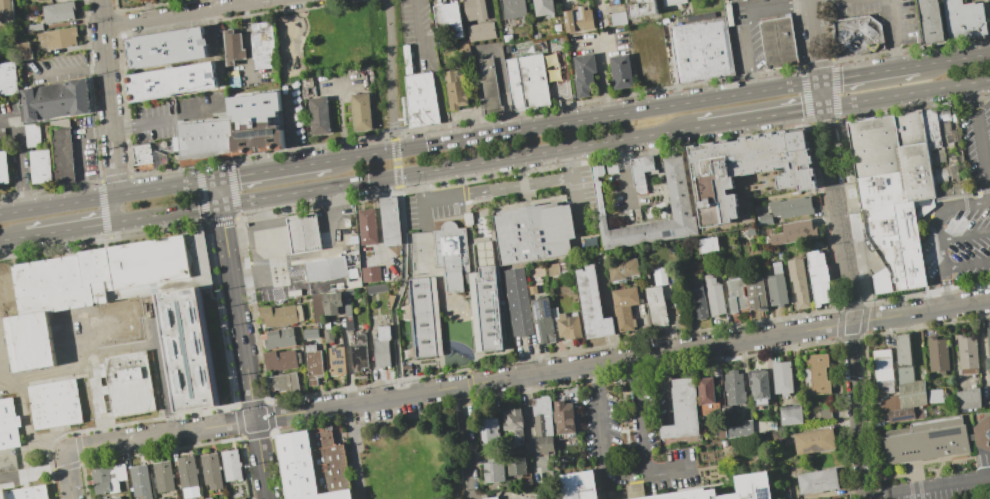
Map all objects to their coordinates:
road: (813, 0)
parking lot: (962, 0)
parking lot: (731, 1)
building: (672, 2)
building: (543, 7)
building: (512, 8)
building: (640, 8)
building: (6, 10)
building: (474, 10)
building: (57, 12)
road: (183, 13)
building: (449, 17)
parking lot: (883, 17)
building: (577, 18)
building: (617, 18)
building: (964, 19)
building: (930, 21)
road: (748, 22)
building: (34, 27)
road: (416, 28)
building: (481, 31)
parking lot: (749, 31)
road: (893, 34)
building: (858, 35)
building: (57, 38)
road: (246, 42)
building: (779, 42)
building: (232, 46)
building: (262, 46)
building: (166, 47)
park: (348, 49)
building: (24, 51)
building: (704, 51)
road: (954, 60)
parking lot: (53, 69)
road: (64, 71)
building: (620, 71)
road: (868, 73)
building: (583, 74)
building: (8, 79)
road: (602, 80)
building: (169, 81)
building: (234, 81)
building: (526, 81)
traffic signals: (820, 81)
road: (790, 85)
building: (487, 87)
building: (455, 90)
road: (906, 94)
road: (107, 98)
building: (421, 100)
building: (54, 101)
road: (567, 103)
parking lot: (200, 107)
traffic signals: (824, 108)
building: (361, 112)
road: (192, 115)
building: (318, 115)
road: (760, 117)
road: (147, 121)
building: (255, 122)
parking lot: (157, 126)
road: (544, 126)
building: (930, 127)
building: (945, 129)
rooftop solar panel: (257, 131)
building: (31, 135)
building: (3, 137)
building: (205, 141)
parking lot: (15, 143)
road: (980, 143)
road: (80, 152)
building: (62, 155)
building: (142, 157)
road: (18, 158)
building: (936, 158)
road: (478, 163)
building: (40, 166)
building: (3, 167)
building: (746, 169)
building: (948, 169)
road: (273, 170)
road: (520, 171)
building: (640, 171)
road: (624, 173)
traffic signals: (218, 179)
road: (463, 180)
road: (497, 189)
building: (950, 189)
road: (219, 192)
building: (891, 194)
road: (109, 196)
road: (399, 198)
building: (678, 198)
road: (240, 202)
road: (577, 202)
road: (977, 203)
traffic signals: (221, 205)
building: (791, 207)
road: (113, 209)
road: (104, 211)
parking lot: (963, 213)
road: (166, 214)
road: (424, 214)
road: (327, 217)
building: (763, 219)
road: (302, 221)
building: (389, 221)
road: (223, 222)
road: (957, 222)
building: (366, 226)
road: (935, 226)
road: (276, 228)
road: (58, 231)
road: (329, 232)
building: (793, 232)
building: (304, 233)
building: (533, 233)
road: (277, 235)
road: (964, 235)
road: (245, 236)
road: (304, 236)
road: (3, 240)
building: (708, 244)
road: (334, 247)
road: (843, 249)
gas station: (304, 252)
building: (450, 254)
road: (267, 256)
road: (966, 264)
building: (555, 269)
building: (622, 269)
building: (326, 270)
building: (370, 274)
building: (659, 276)
building: (817, 277)
building: (797, 282)
building: (776, 285)
road: (945, 287)
building: (735, 294)
building: (755, 294)
building: (713, 295)
building: (696, 299)
building: (517, 301)
building: (331, 302)
building: (591, 304)
building: (656, 305)
building: (624, 307)
building: (317, 308)
rooftop solar panel: (547, 308)
building: (484, 309)
rooftop solar panel: (535, 310)
building: (280, 315)
building: (423, 317)
building: (542, 321)
building: (567, 325)
rooftop solar panel: (537, 331)
building: (310, 333)
building: (327, 335)
building: (279, 338)
building: (184, 341)
building: (381, 346)
building: (987, 351)
building: (358, 353)
building: (937, 354)
building: (967, 354)
building: (280, 359)
building: (335, 360)
building: (312, 364)
road: (161, 367)
road: (246, 369)
building: (882, 369)
building: (816, 374)
road: (527, 375)
building: (782, 377)
building: (904, 379)
building: (284, 382)
building: (128, 383)
building: (758, 385)
building: (97, 386)
building: (733, 387)
building: (706, 395)
building: (934, 395)
building: (968, 398)
building: (54, 404)
building: (682, 409)
road: (640, 413)
building: (824, 413)
building: (902, 414)
building: (791, 415)
building: (563, 418)
building: (8, 424)
building: (542, 424)
building: (513, 426)
road: (350, 429)
building: (489, 429)
building: (735, 430)
rooftop solar panel: (944, 432)
road: (601, 434)
building: (934, 439)
building: (813, 440)
road: (467, 442)
park: (411, 456)
building: (232, 464)
building: (314, 464)
road: (671, 465)
building: (516, 466)
building: (212, 469)
building: (187, 470)
road: (33, 472)
building: (494, 472)
building: (163, 474)
road: (358, 476)
road: (67, 477)
building: (140, 477)
building: (109, 478)
building: (817, 481)
building: (584, 485)
road: (926, 485)
building: (634, 489)
building: (726, 490)
building: (25, 493)
building: (117, 498)
building: (166, 498)
building: (490, 498)
rooftop solar panel: (763, 498)
building: (832, 498)

